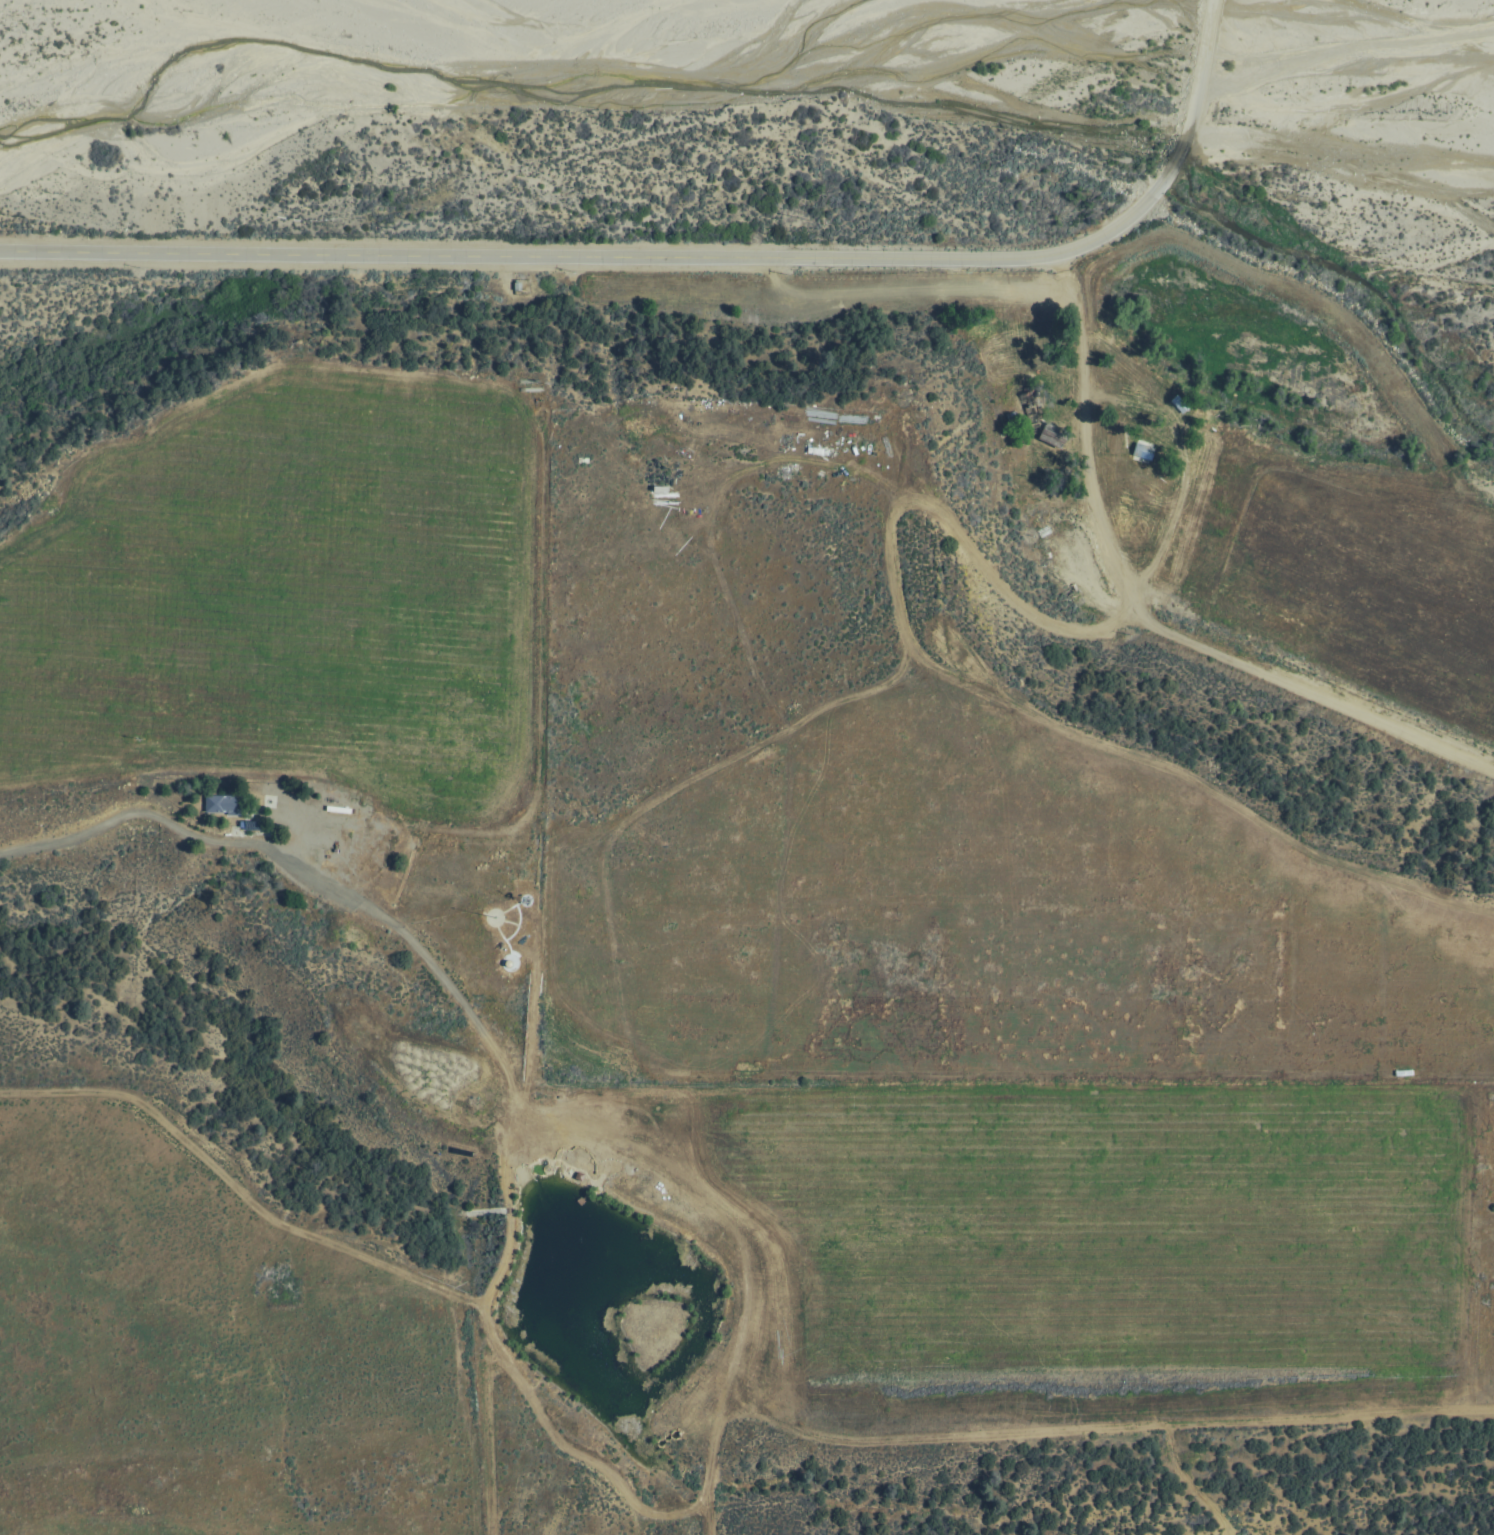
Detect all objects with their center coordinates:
river: (1491, 11)
road: (695, 262)
road: (1086, 441)
road: (1306, 694)
building: (222, 803)
road: (626, 1039)

